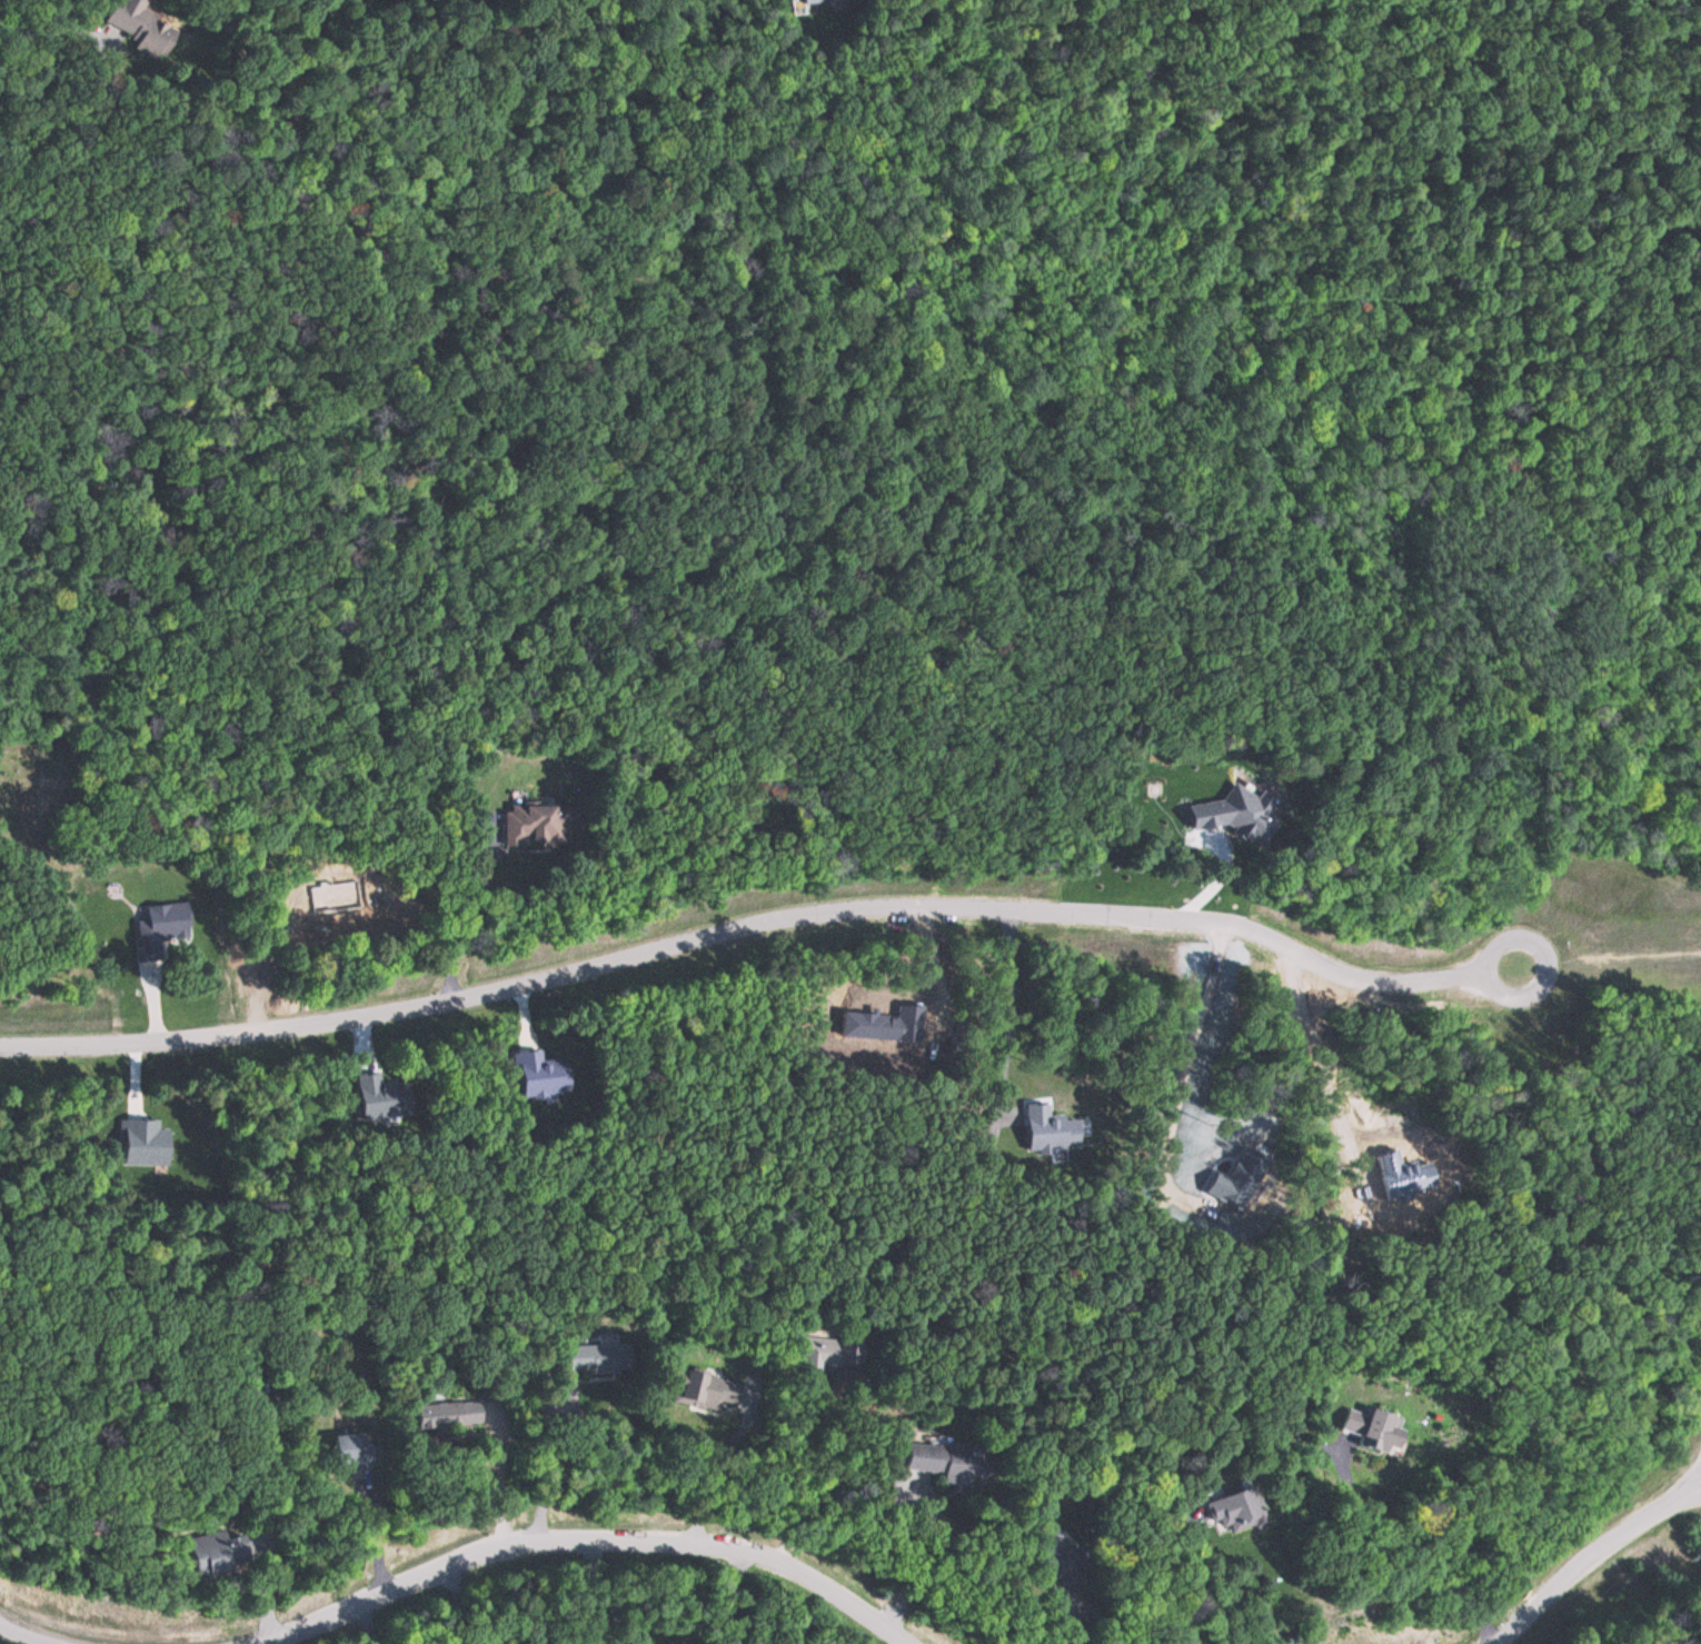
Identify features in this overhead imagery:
building: (817, 1)
building: (139, 26)
road: (1257, 229)
building: (534, 825)
road: (743, 928)
road: (1622, 944)
road: (1544, 960)
building: (1052, 1119)
building: (814, 1352)
building: (593, 1358)
building: (702, 1389)
building: (447, 1415)
building: (1373, 1431)
building: (350, 1449)
building: (938, 1461)
building: (1233, 1511)
road: (593, 1537)
road: (1592, 1553)
building: (217, 1554)
building: (1063, 1562)
road: (28, 1635)

